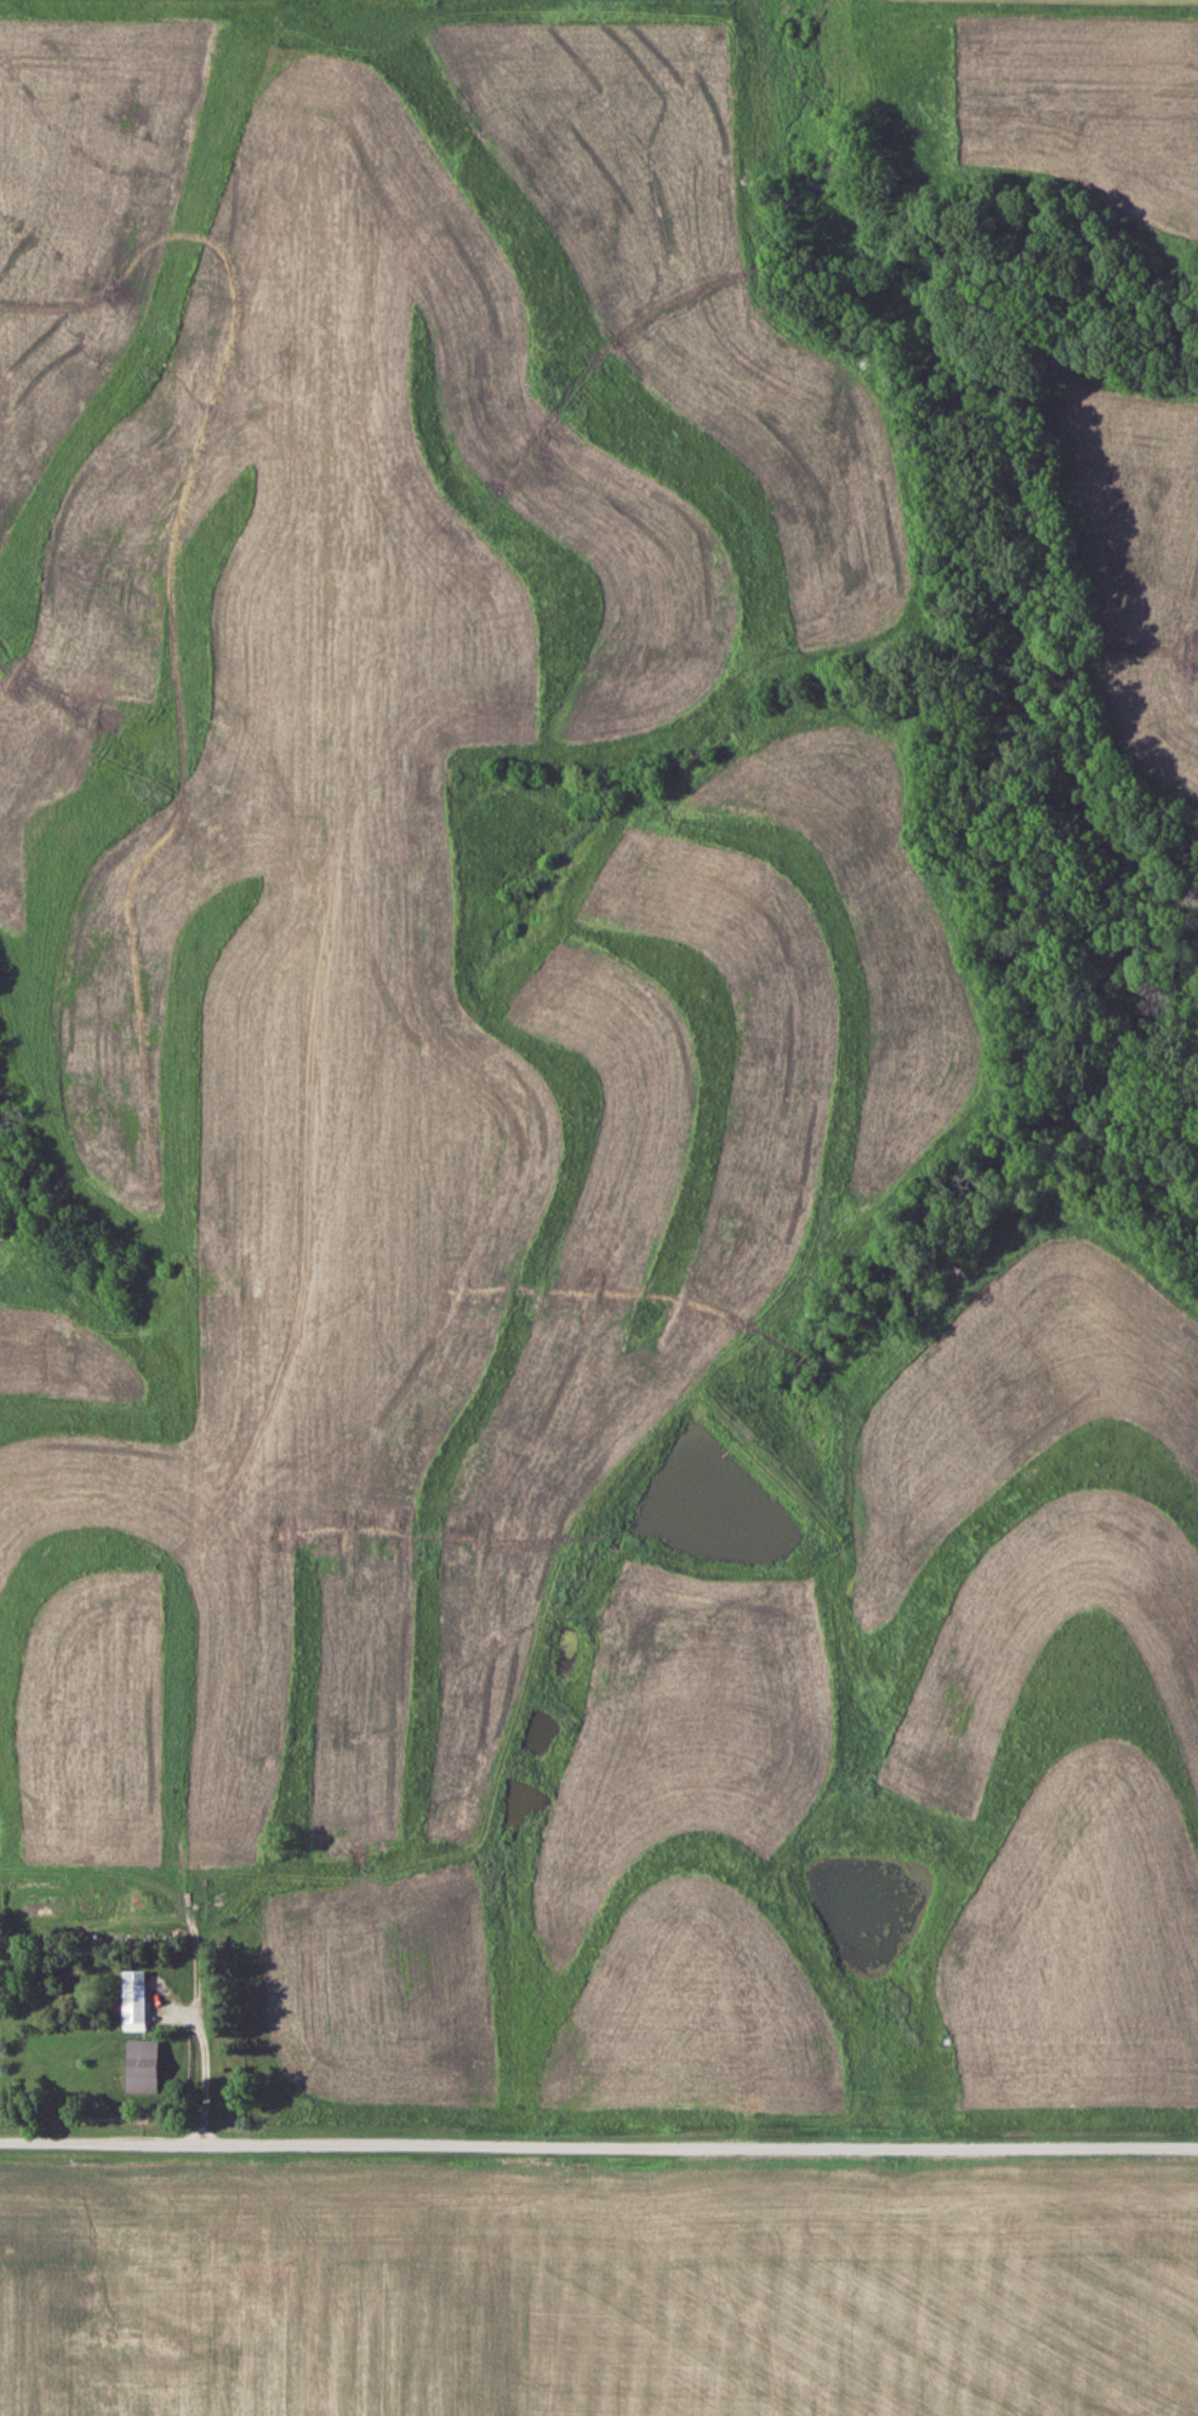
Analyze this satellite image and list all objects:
building: (85, 1898)
building: (131, 1997)
building: (139, 2060)
building: (702, 2075)
road: (599, 2108)

